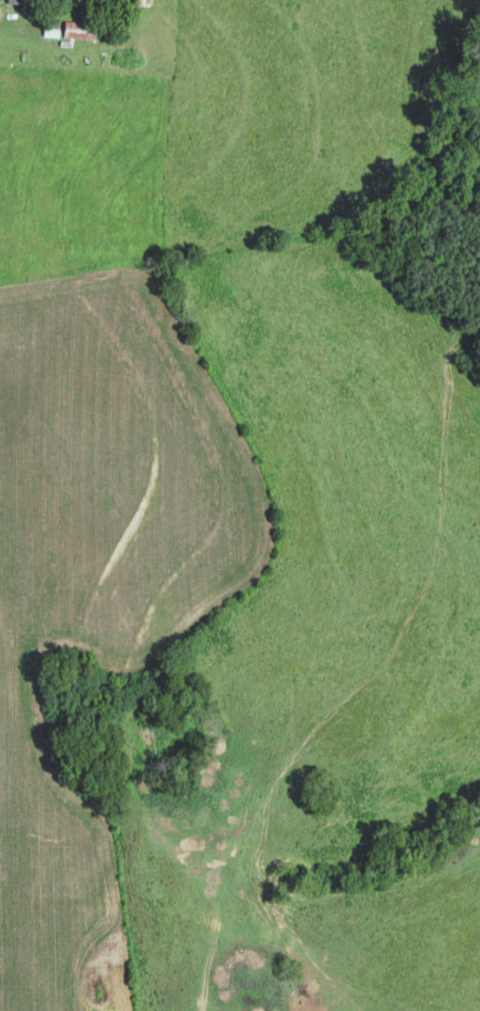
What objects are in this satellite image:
building: (10, 1)
building: (139, 3)
building: (105, 5)
building: (76, 30)

